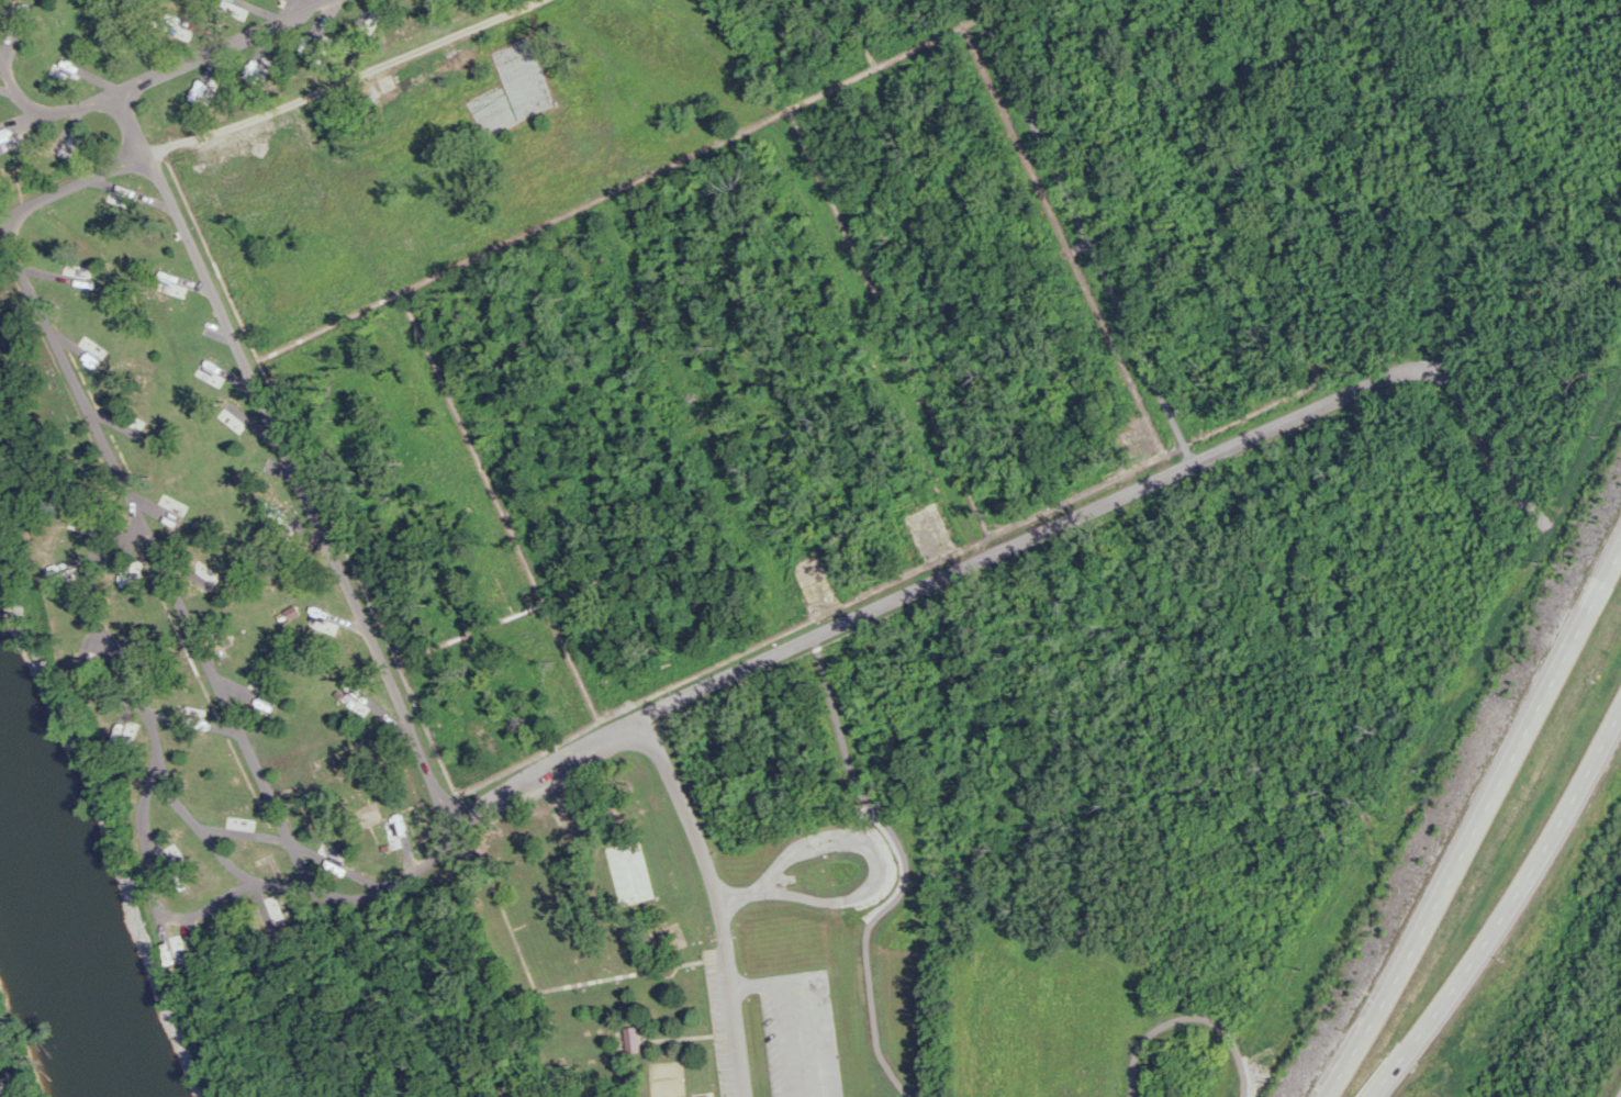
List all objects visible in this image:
road: (147, 74)
park: (55, 422)
road: (1020, 542)
building: (322, 617)
road: (154, 739)
road: (1479, 830)
river: (65, 888)
road: (712, 900)
road: (360, 903)
road: (1503, 907)
road: (1535, 938)
building: (631, 1041)
park: (659, 1067)

